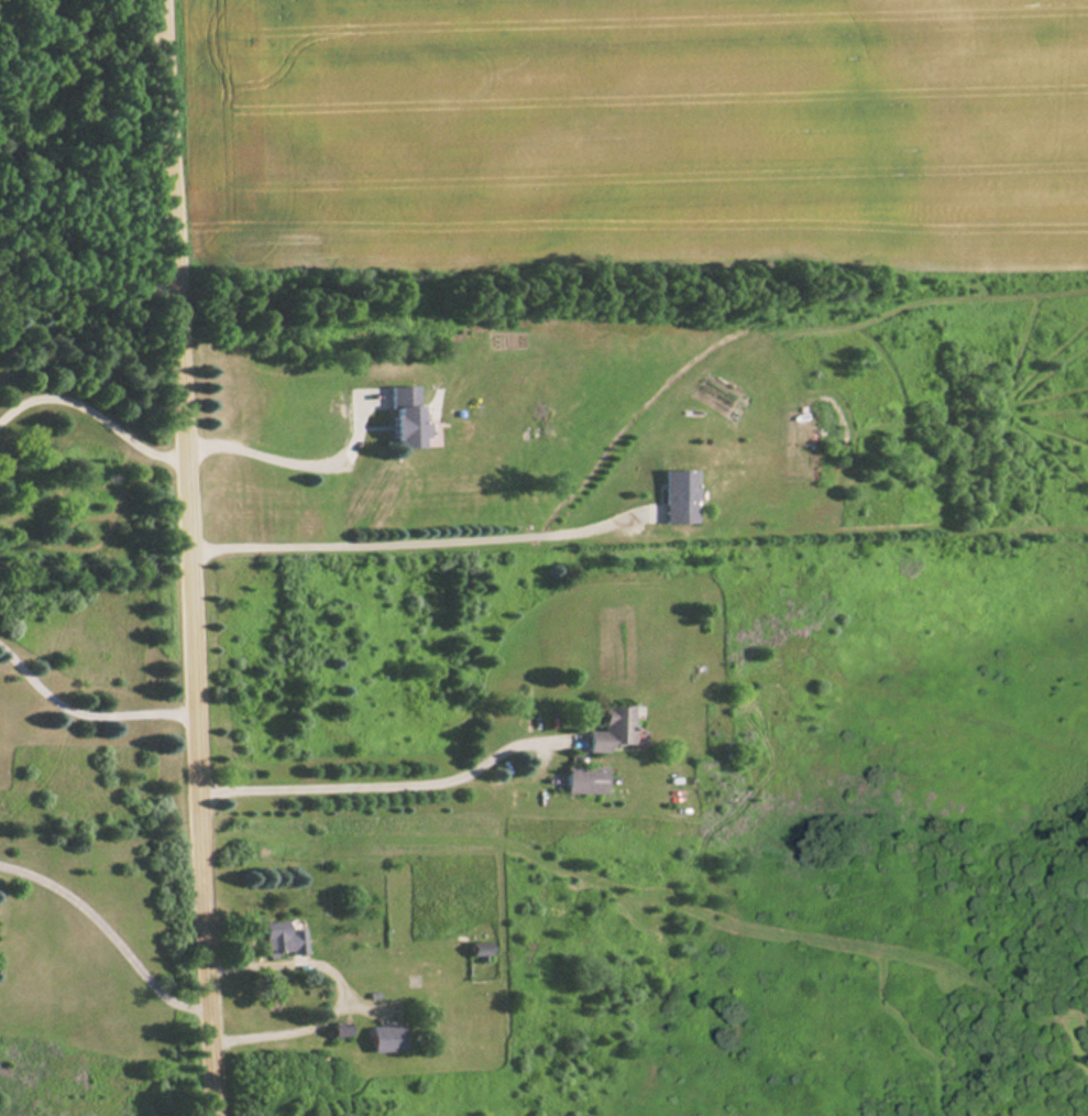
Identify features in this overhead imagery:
road: (96, 412)
building: (405, 415)
road: (289, 459)
building: (679, 495)
road: (422, 538)
road: (194, 557)
road: (87, 711)
building: (612, 730)
building: (584, 780)
road: (383, 781)
road: (110, 932)
building: (282, 940)
building: (480, 949)
road: (343, 989)
building: (387, 1039)

